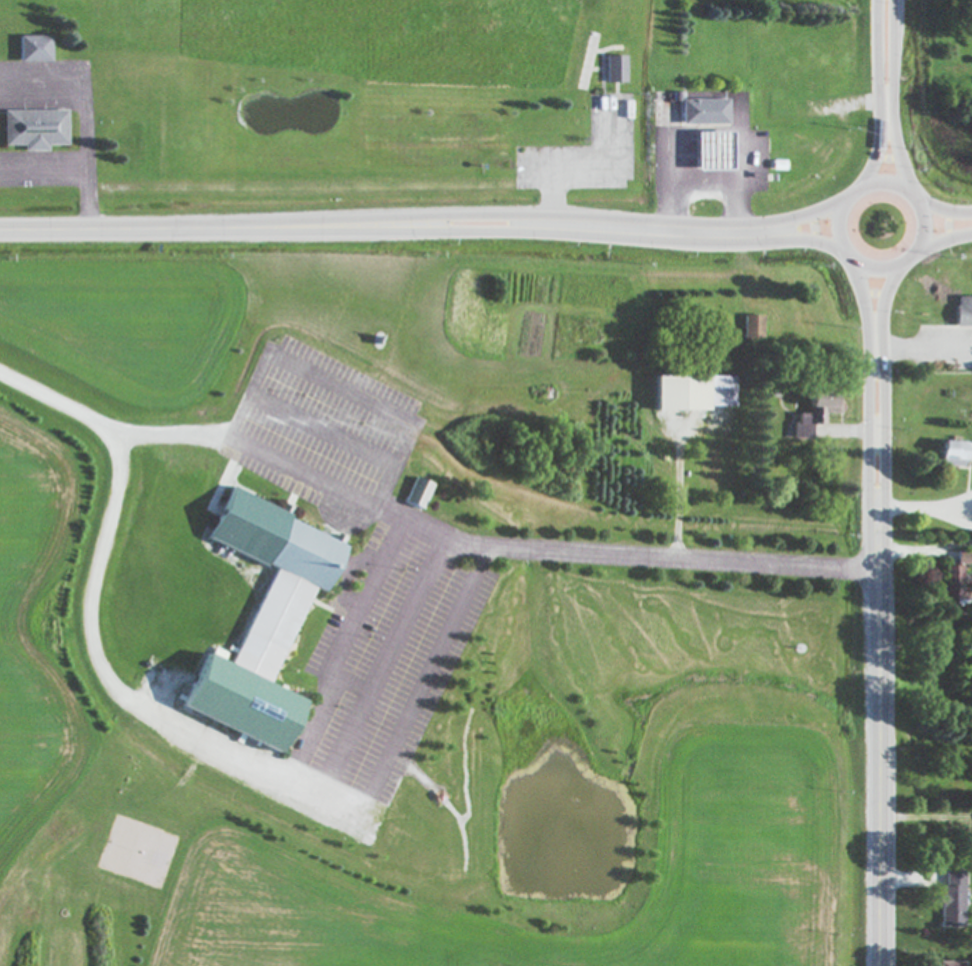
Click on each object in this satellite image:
building: (29, 50)
building: (612, 71)
road: (877, 94)
road: (895, 96)
building: (699, 113)
road: (83, 114)
building: (30, 131)
building: (708, 153)
road: (587, 169)
road: (43, 176)
road: (886, 181)
road: (706, 183)
road: (850, 191)
road: (912, 196)
road: (943, 210)
road: (577, 214)
road: (155, 226)
road: (835, 228)
road: (923, 228)
road: (578, 233)
road: (940, 238)
road: (848, 257)
road: (908, 258)
road: (877, 269)
building: (961, 312)
building: (749, 327)
road: (919, 348)
road: (341, 390)
building: (689, 393)
road: (881, 406)
road: (867, 407)
building: (812, 413)
road: (322, 430)
road: (264, 451)
building: (950, 454)
building: (415, 494)
road: (678, 496)
road: (921, 508)
road: (489, 547)
road: (925, 551)
building: (962, 558)
building: (949, 583)
building: (258, 621)
road: (383, 667)
road: (194, 734)
road: (878, 759)
road: (922, 816)
road: (900, 877)
building: (950, 901)
building: (949, 964)

